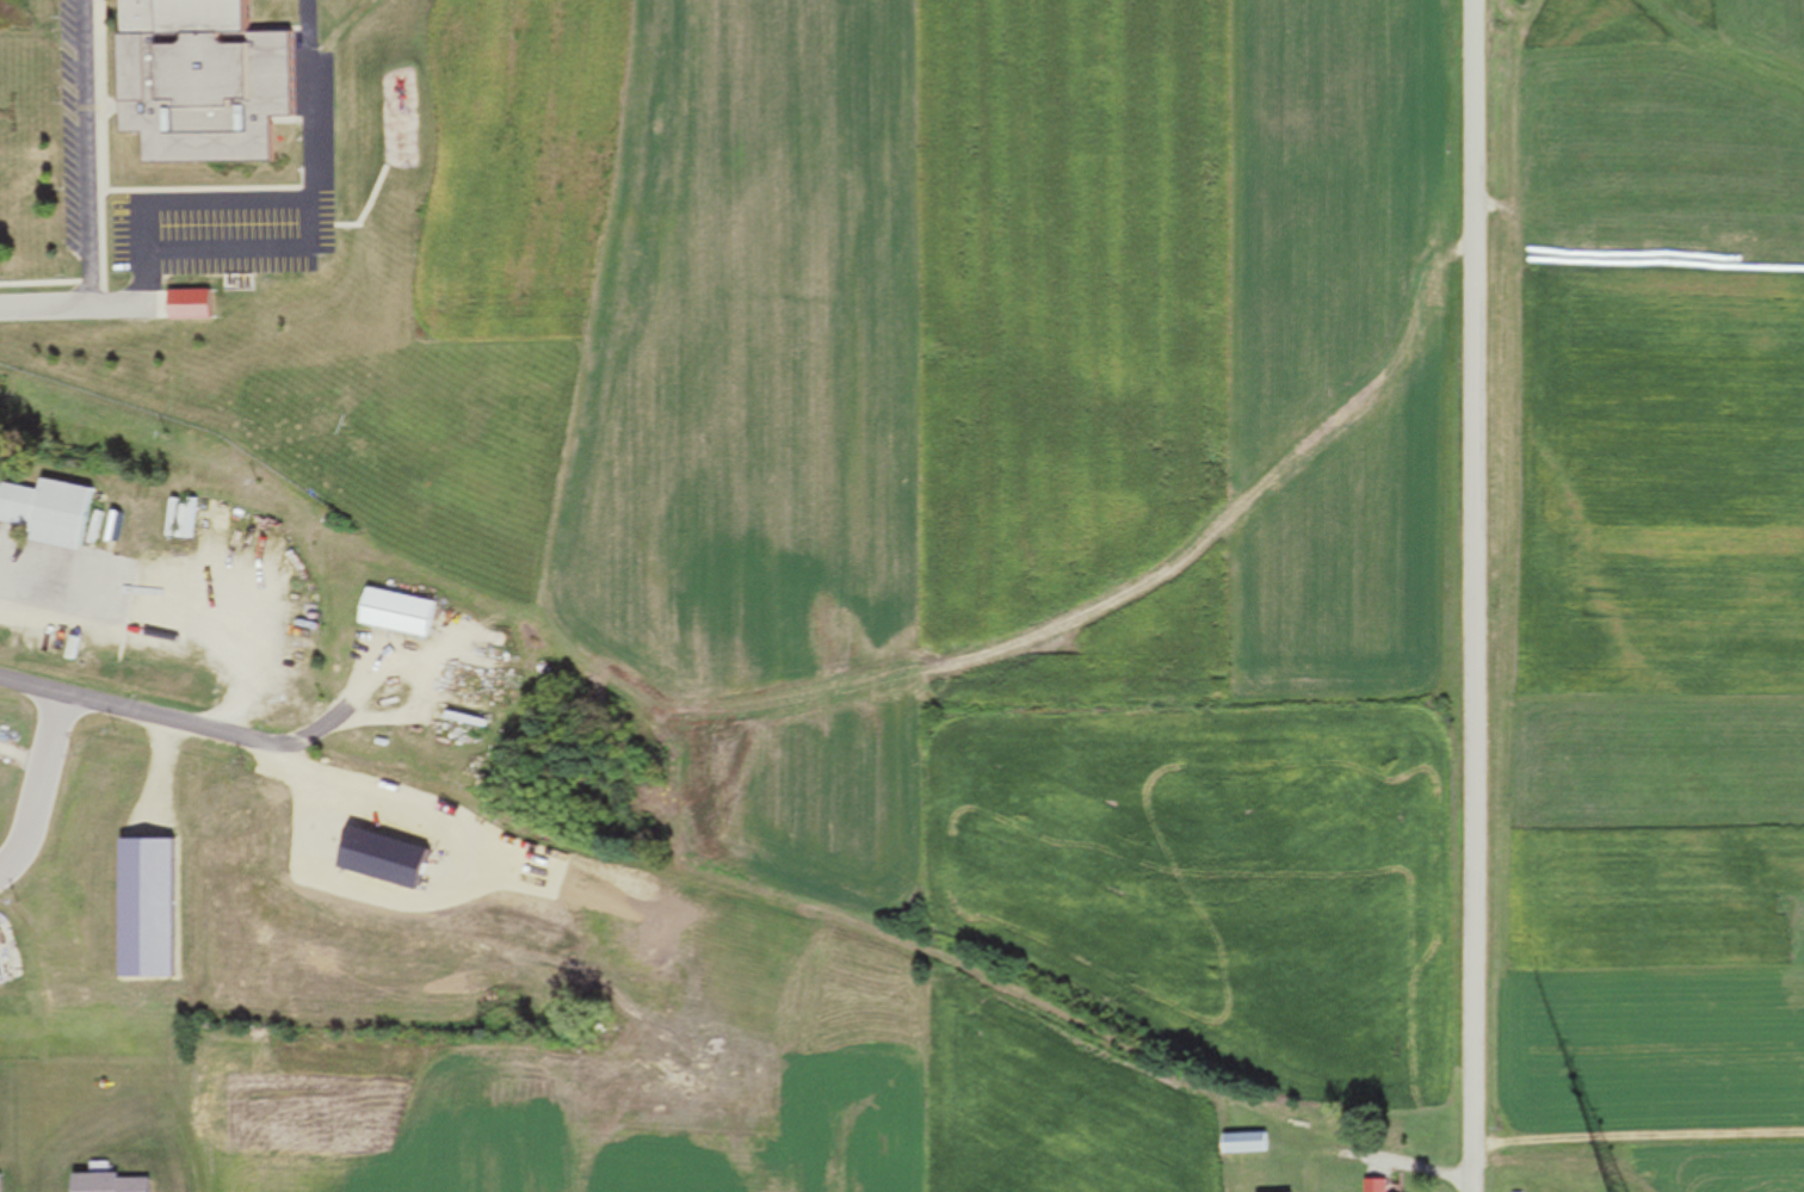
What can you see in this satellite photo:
building: (196, 81)
road: (86, 193)
building: (44, 514)
building: (174, 518)
road: (1470, 595)
building: (391, 614)
road: (143, 709)
building: (458, 722)
road: (37, 777)
building: (1242, 1143)
building: (1373, 1186)

